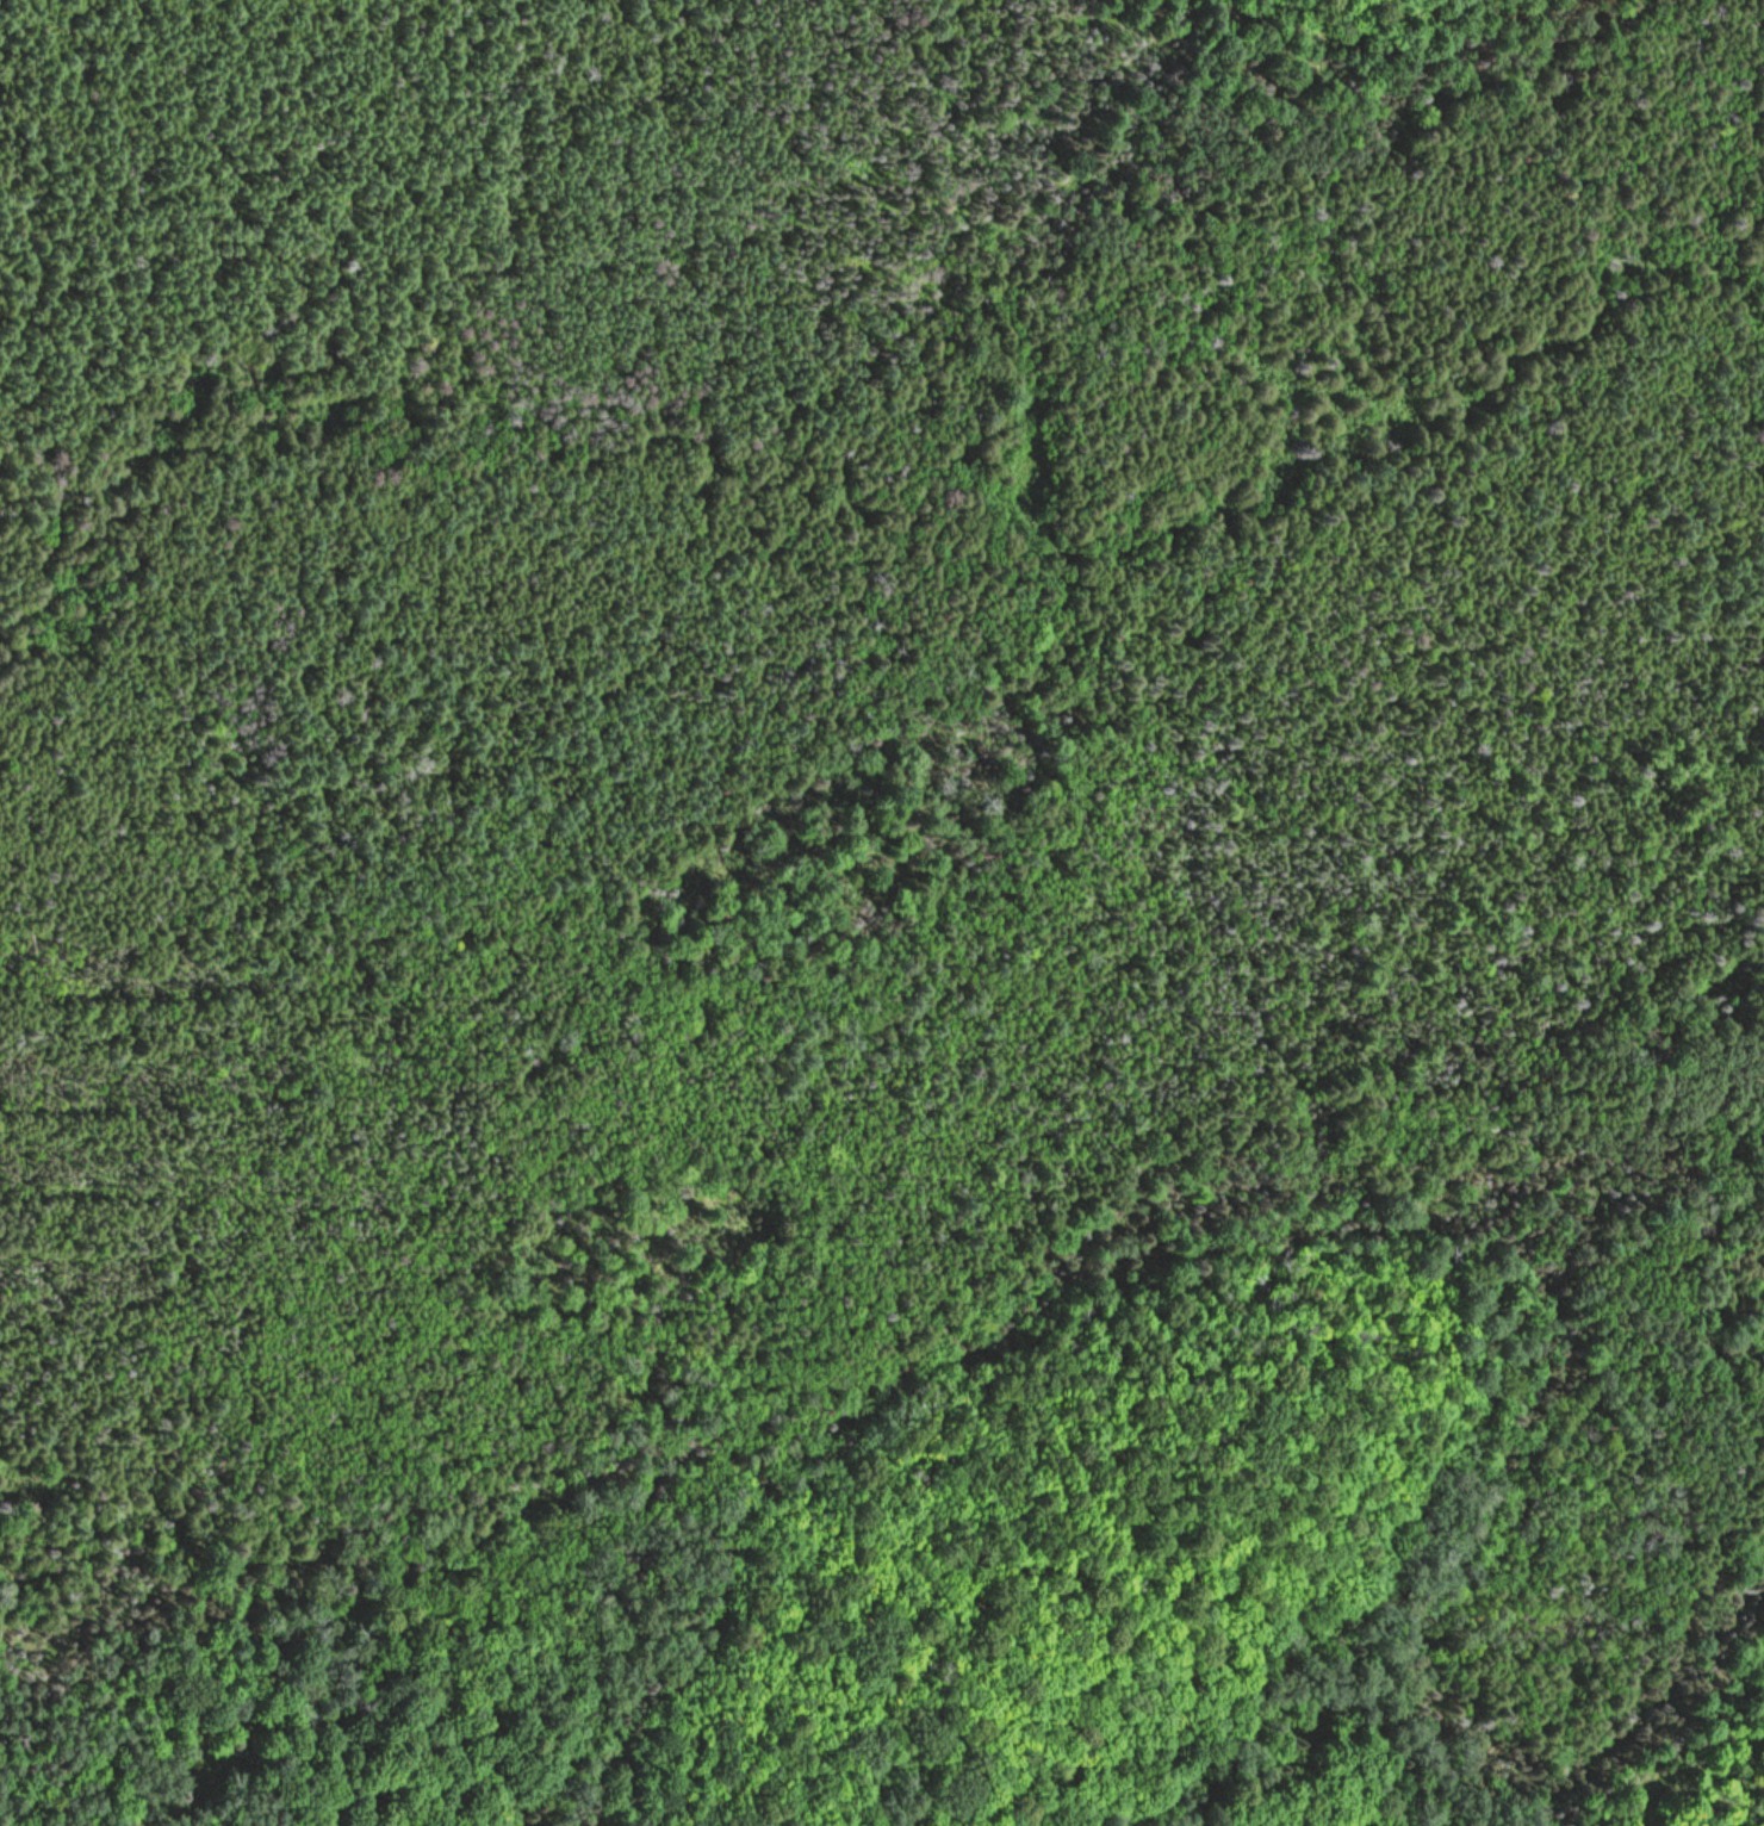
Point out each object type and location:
river: (836, 505)

